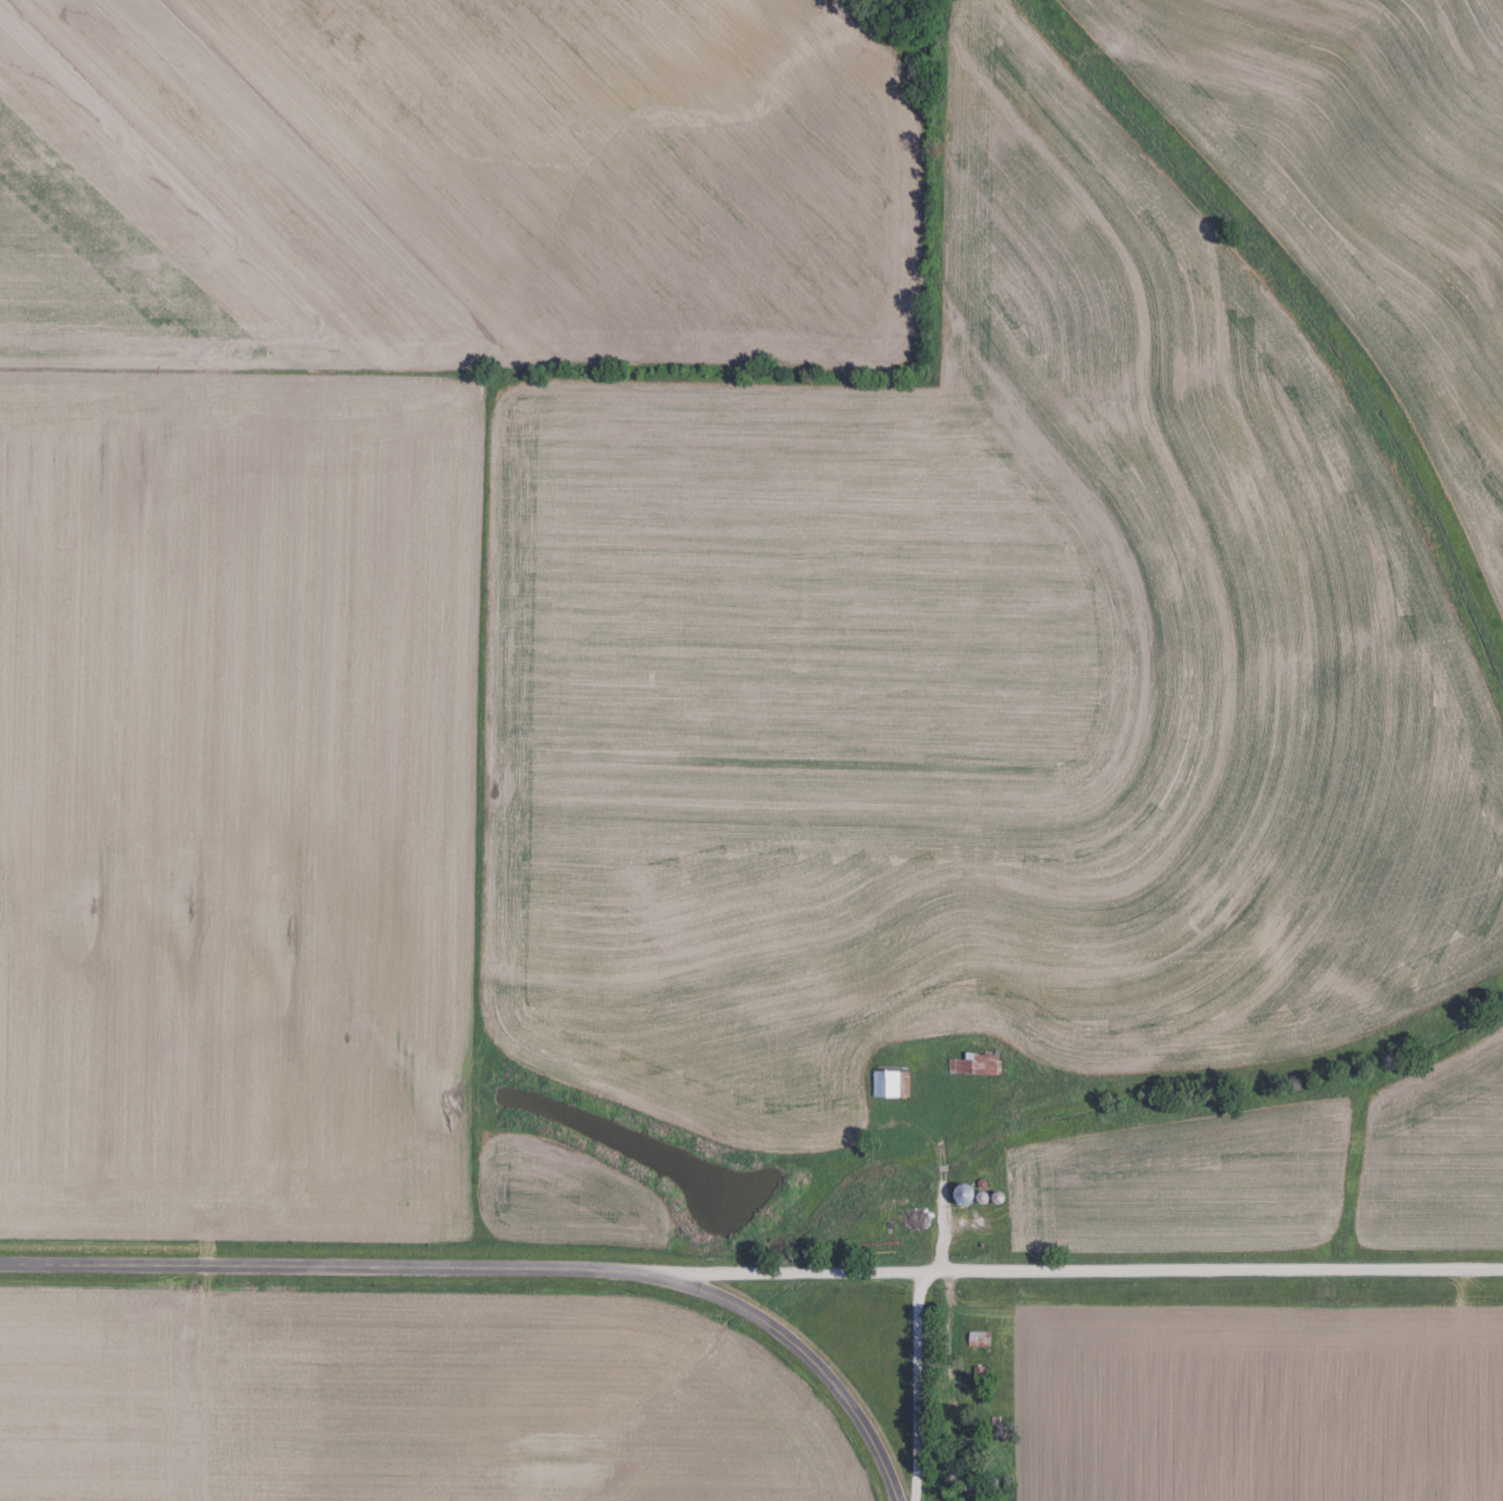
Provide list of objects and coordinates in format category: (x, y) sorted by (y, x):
building: (974, 1064)
building: (892, 1083)
building: (966, 1193)
road: (502, 1266)
road: (1081, 1270)
building: (979, 1338)
road: (920, 1386)

